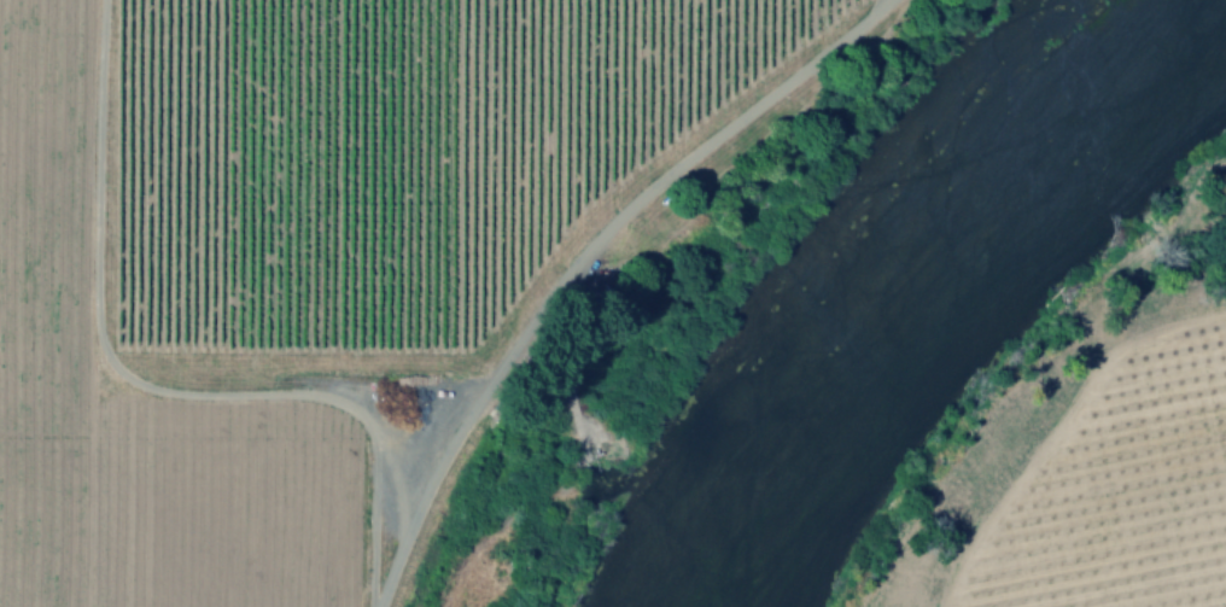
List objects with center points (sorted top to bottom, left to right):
road: (578, 258)
river: (903, 273)
road: (141, 390)

